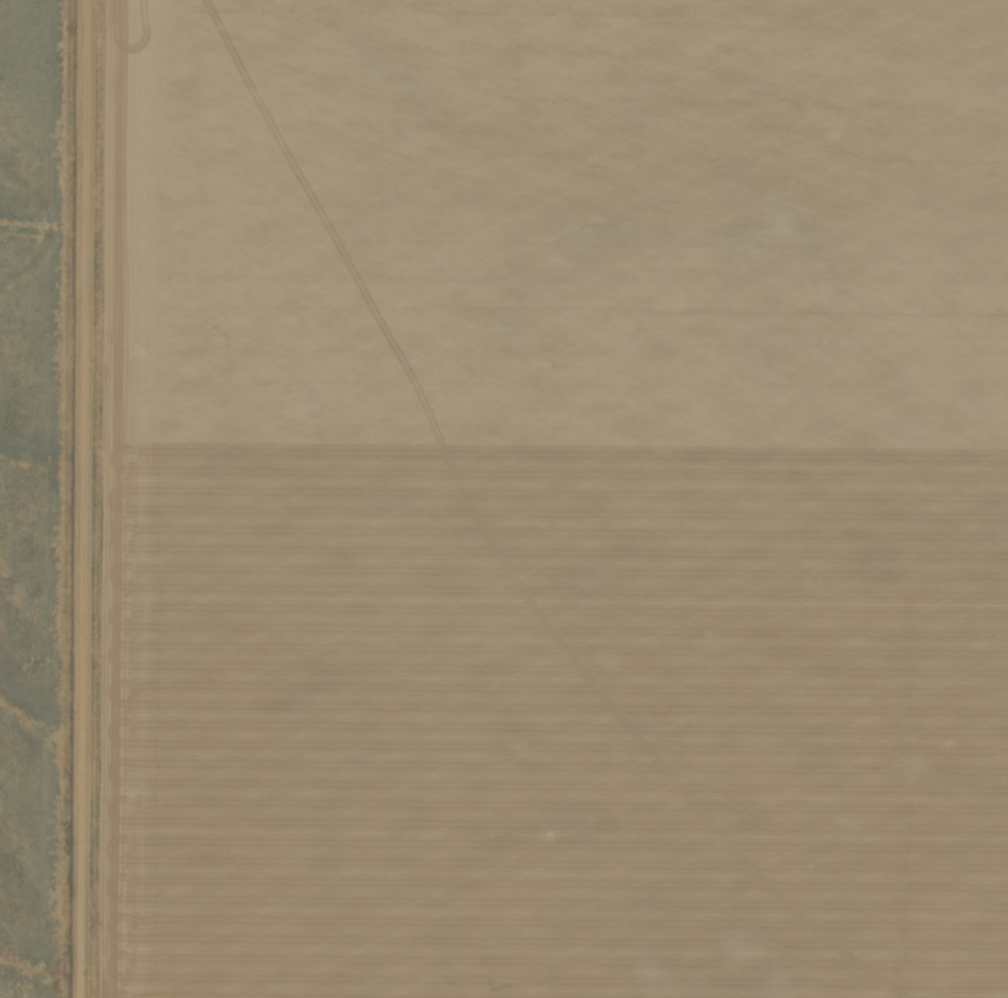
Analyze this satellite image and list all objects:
road: (126, 499)

